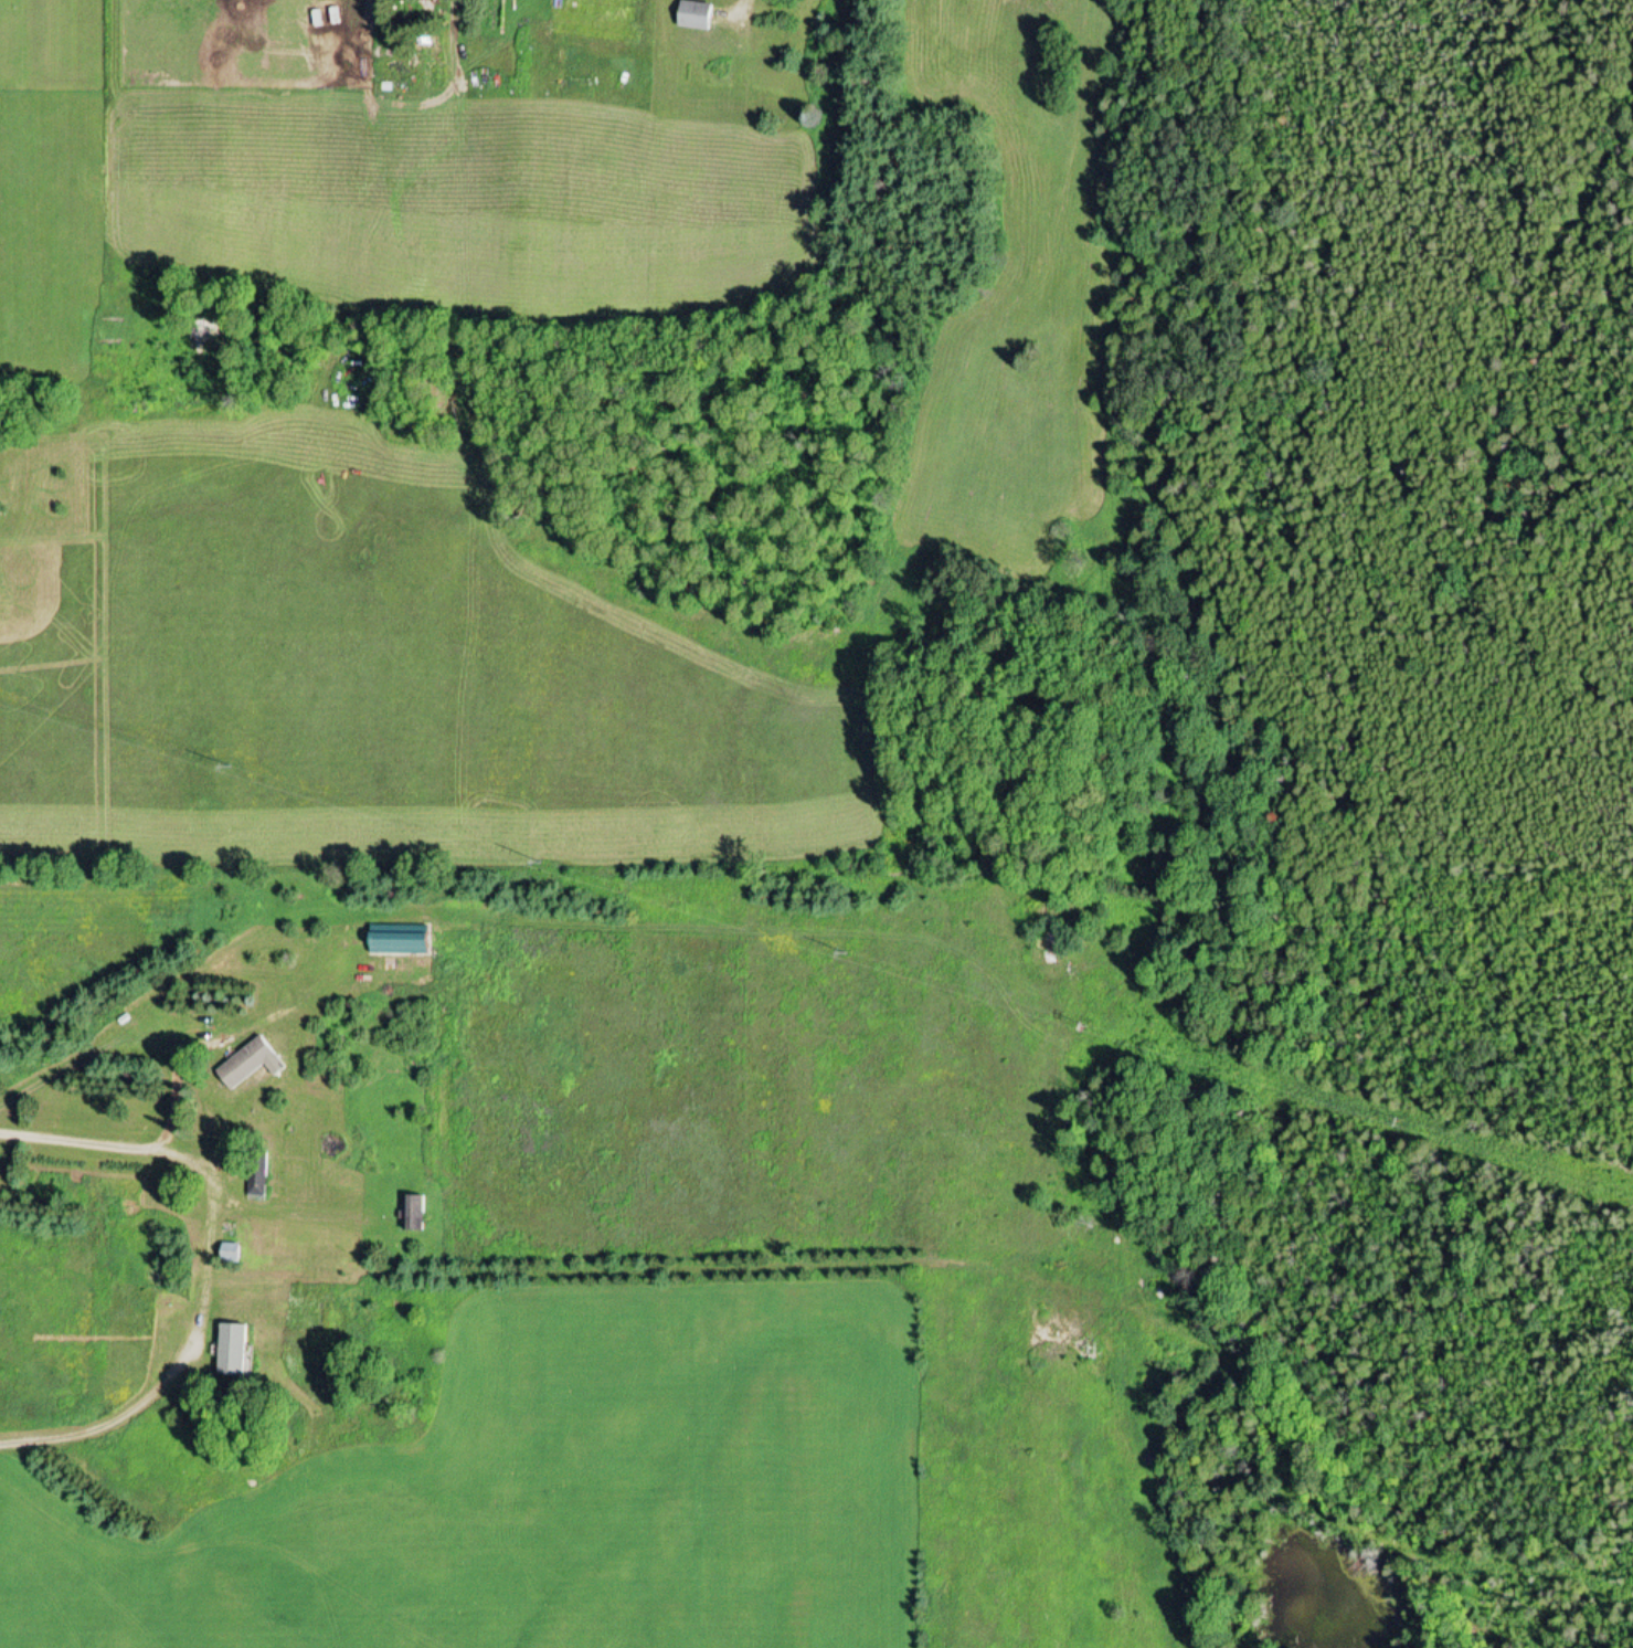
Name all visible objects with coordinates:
road: (743, 12)
building: (690, 15)
building: (394, 941)
building: (247, 1064)
road: (188, 1138)
building: (409, 1214)
building: (227, 1351)

